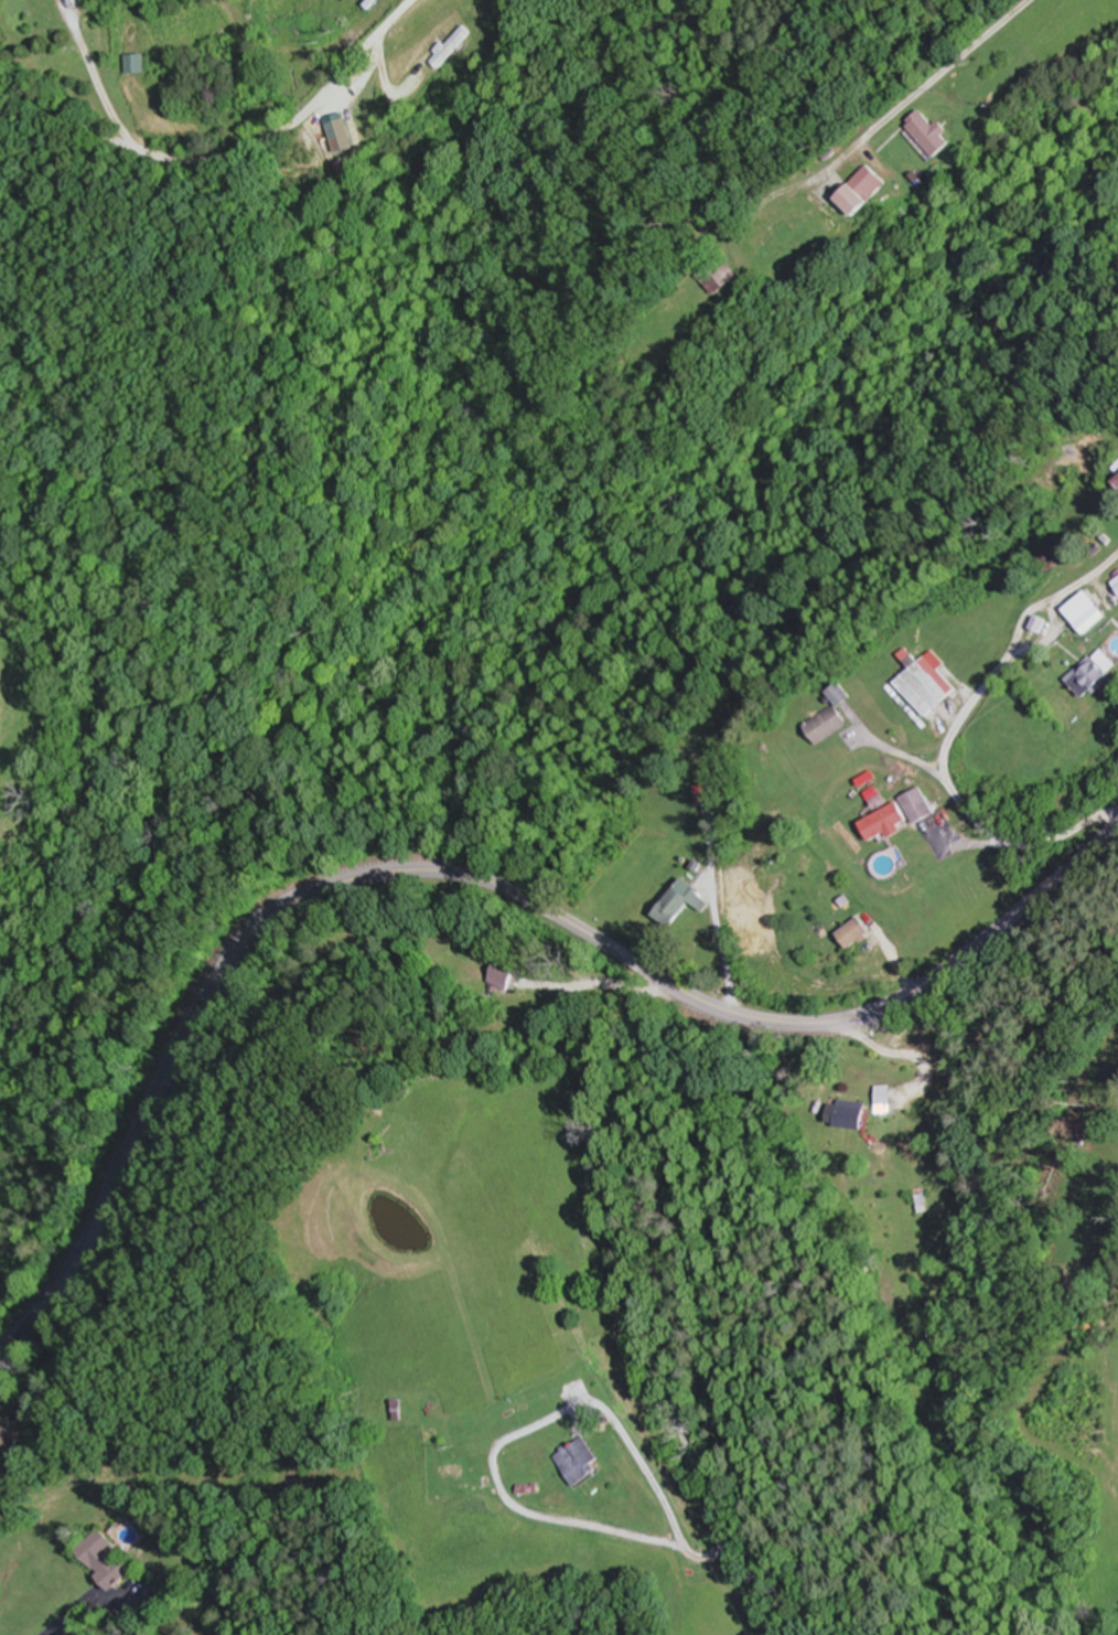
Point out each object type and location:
building: (488, 9)
building: (453, 47)
road: (921, 90)
building: (932, 132)
building: (344, 135)
road: (227, 153)
building: (866, 189)
building: (782, 231)
building: (722, 276)
building: (1117, 581)
building: (1089, 611)
road: (1021, 633)
building: (1092, 676)
building: (928, 683)
building: (846, 694)
building: (831, 724)
building: (702, 759)
building: (918, 804)
road: (965, 812)
building: (888, 822)
road: (476, 879)
building: (742, 884)
building: (686, 902)
building: (860, 932)
building: (508, 974)
road: (646, 993)
road: (1069, 1019)
building: (854, 1113)
road: (800, 1126)
building: (9, 1441)
building: (584, 1462)
building: (106, 1559)

